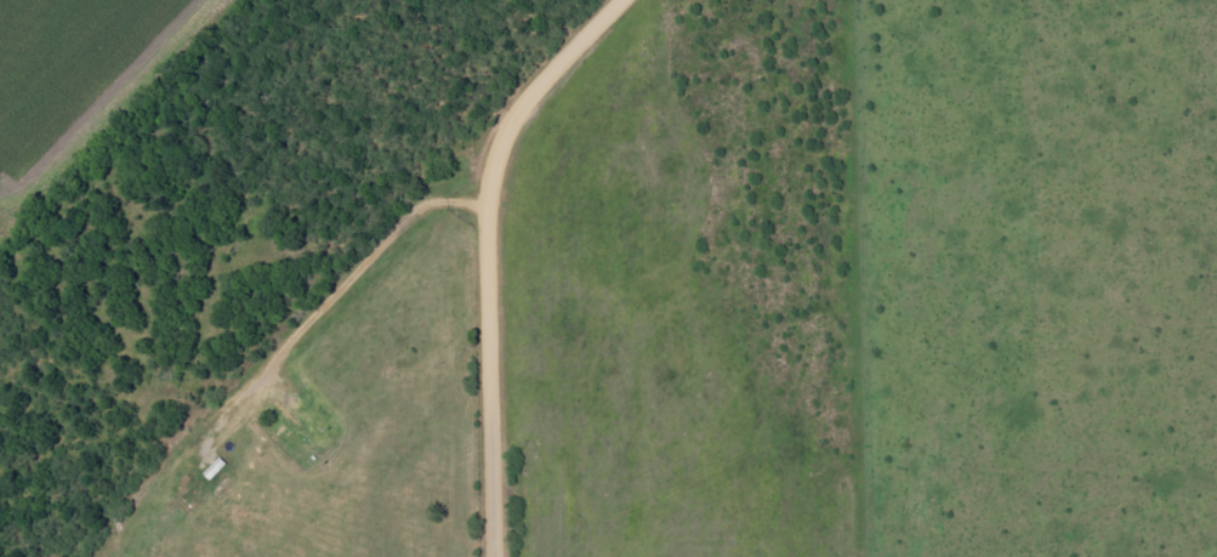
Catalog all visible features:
road: (491, 254)
road: (295, 340)

